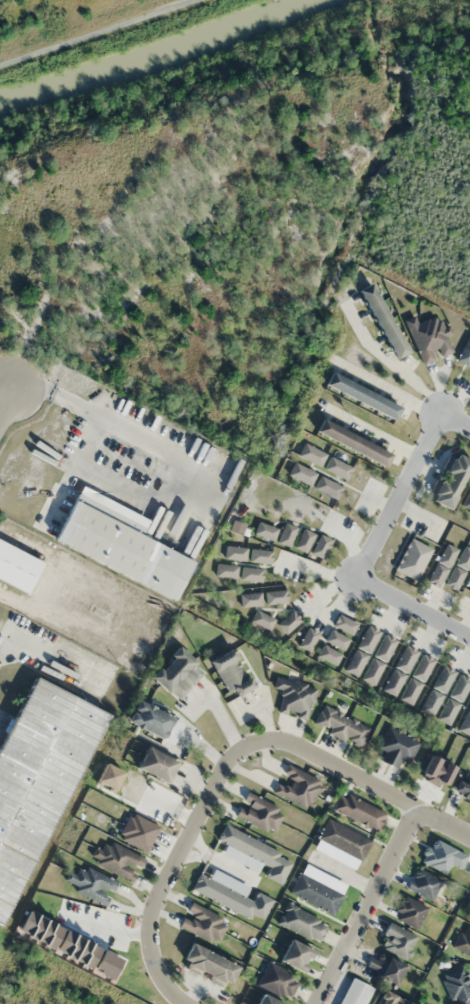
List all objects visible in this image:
road: (96, 33)
park: (425, 149)
building: (381, 319)
building: (428, 337)
building: (465, 351)
building: (360, 395)
road: (6, 399)
building: (351, 442)
building: (310, 454)
building: (336, 468)
building: (301, 473)
building: (449, 480)
building: (326, 486)
building: (467, 500)
building: (265, 530)
road: (376, 535)
building: (303, 539)
building: (119, 542)
building: (319, 546)
building: (259, 555)
building: (441, 563)
building: (16, 567)
building: (458, 568)
building: (231, 572)
building: (250, 573)
building: (468, 587)
building: (275, 596)
building: (288, 620)
building: (343, 624)
building: (336, 639)
building: (361, 650)
building: (325, 654)
building: (378, 658)
building: (399, 670)
building: (176, 672)
building: (230, 672)
building: (416, 678)
building: (436, 690)
building: (294, 696)
building: (453, 698)
building: (153, 721)
building: (465, 722)
building: (341, 725)
building: (395, 746)
building: (154, 765)
building: (35, 780)
building: (296, 786)
road: (212, 788)
building: (461, 788)
building: (258, 813)
road: (442, 823)
building: (343, 839)
building: (257, 852)
building: (116, 859)
building: (423, 883)
building: (92, 885)
building: (317, 889)
road: (365, 905)
building: (409, 911)
building: (301, 922)
building: (202, 923)
building: (396, 940)
building: (463, 941)
building: (295, 955)
building: (207, 965)
building: (383, 967)
building: (277, 981)
building: (456, 986)
building: (355, 993)
building: (265, 1000)
building: (386, 1000)

